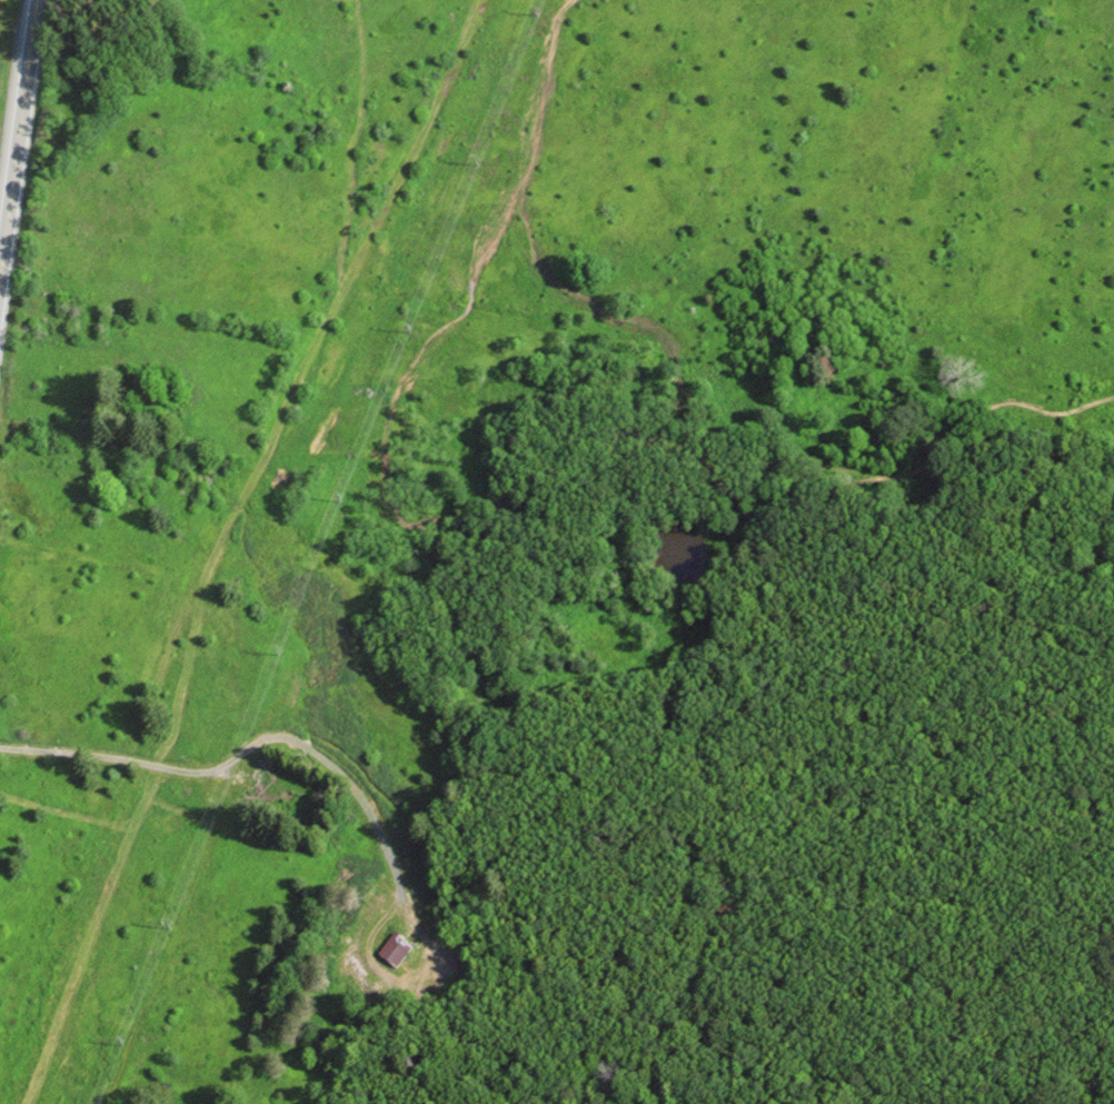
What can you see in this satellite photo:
road: (17, 127)
building: (394, 948)

